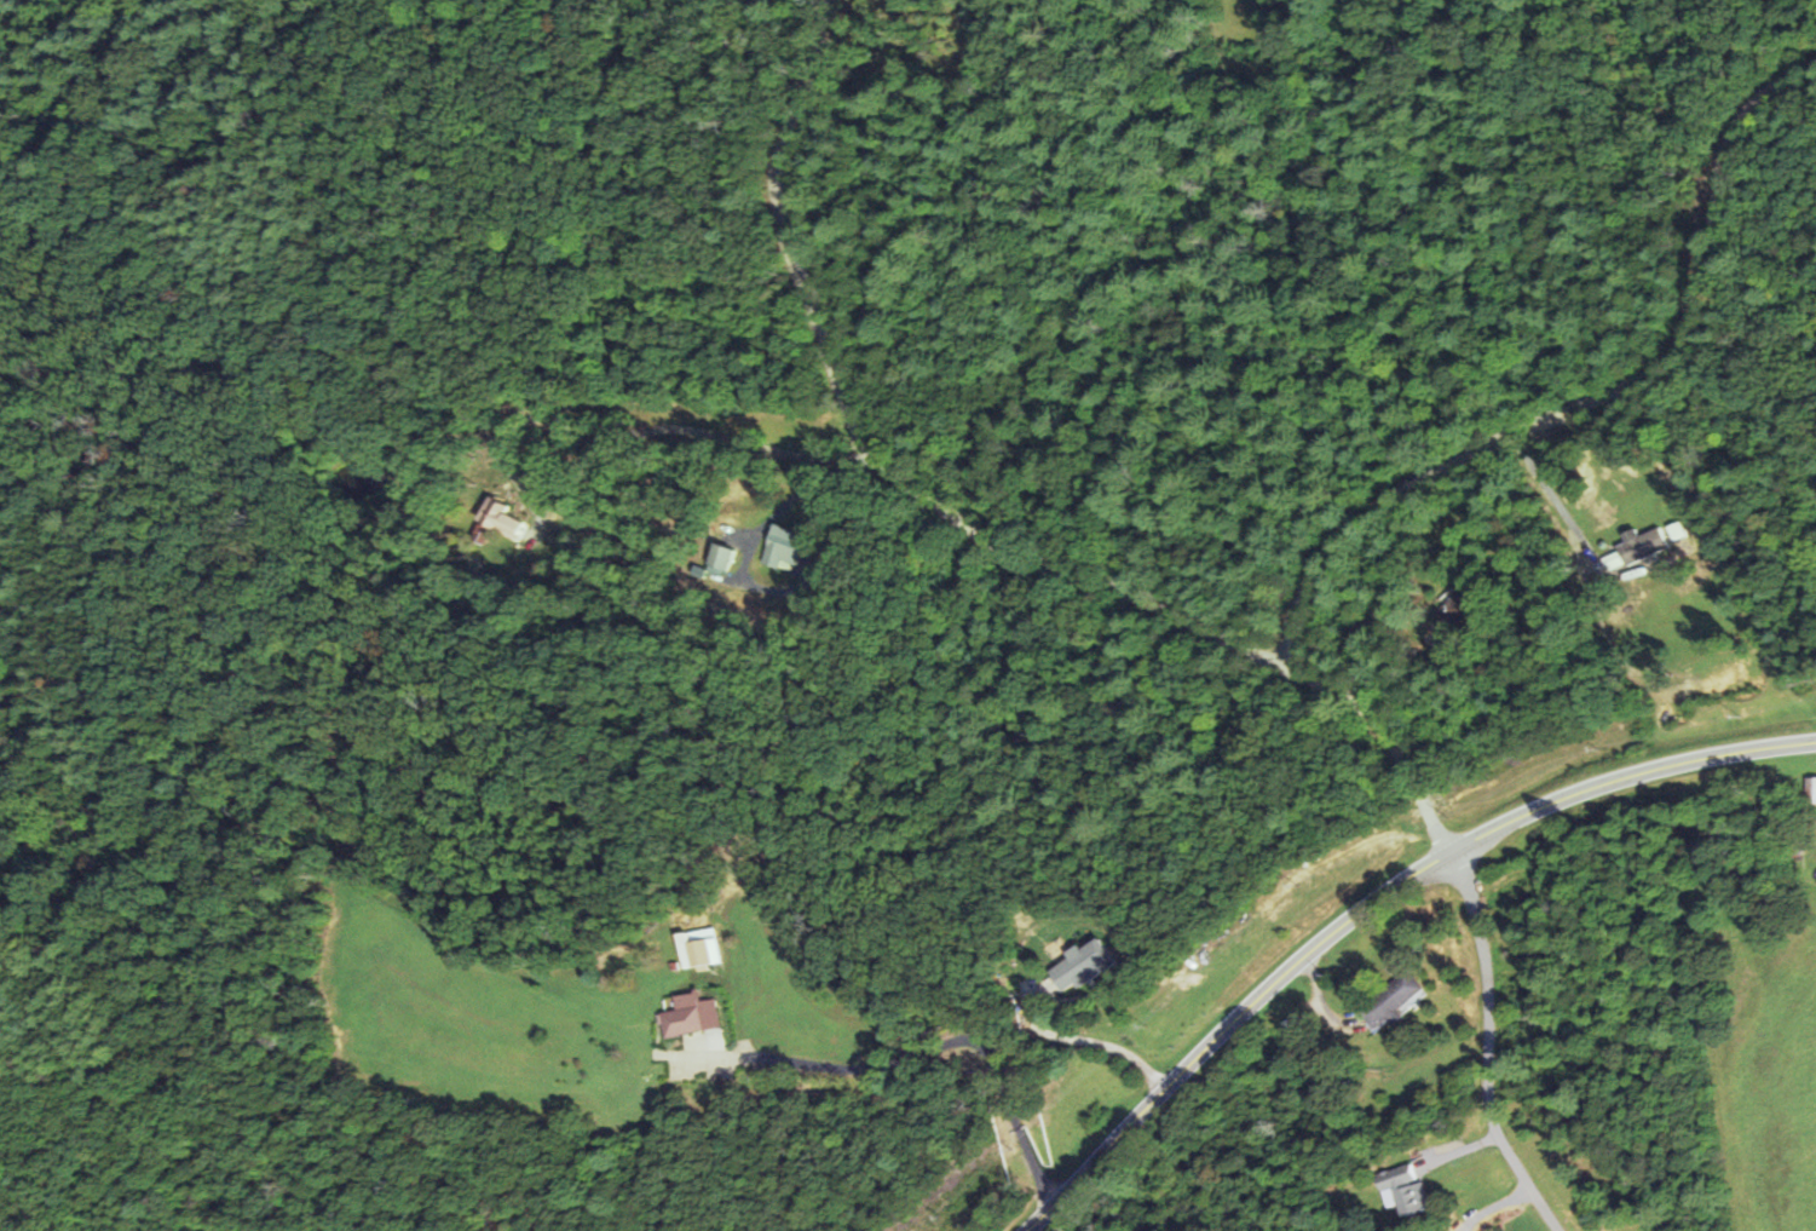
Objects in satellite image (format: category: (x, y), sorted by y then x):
road: (1601, 391)
road: (864, 450)
building: (503, 519)
building: (784, 547)
building: (1639, 547)
building: (1454, 609)
building: (1711, 675)
road: (1390, 731)
building: (1810, 790)
road: (1370, 902)
building: (701, 953)
building: (1080, 965)
building: (1390, 1001)
building: (690, 1016)
road: (963, 1048)
road: (1483, 1051)
building: (1403, 1187)

